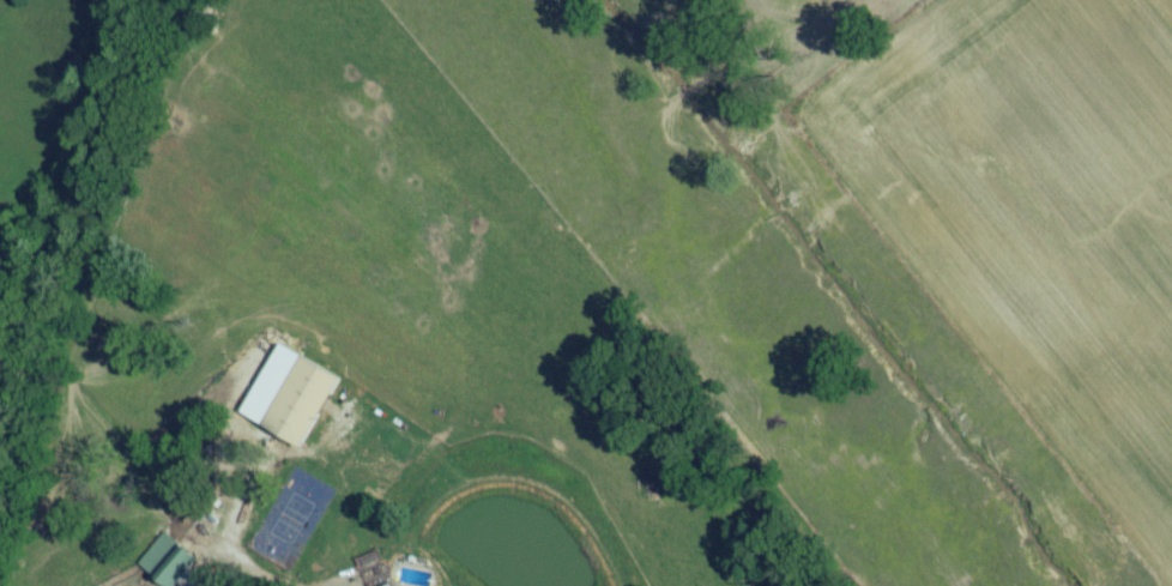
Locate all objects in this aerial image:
building: (302, 410)
road: (220, 536)
building: (203, 551)
building: (167, 564)
building: (343, 582)

